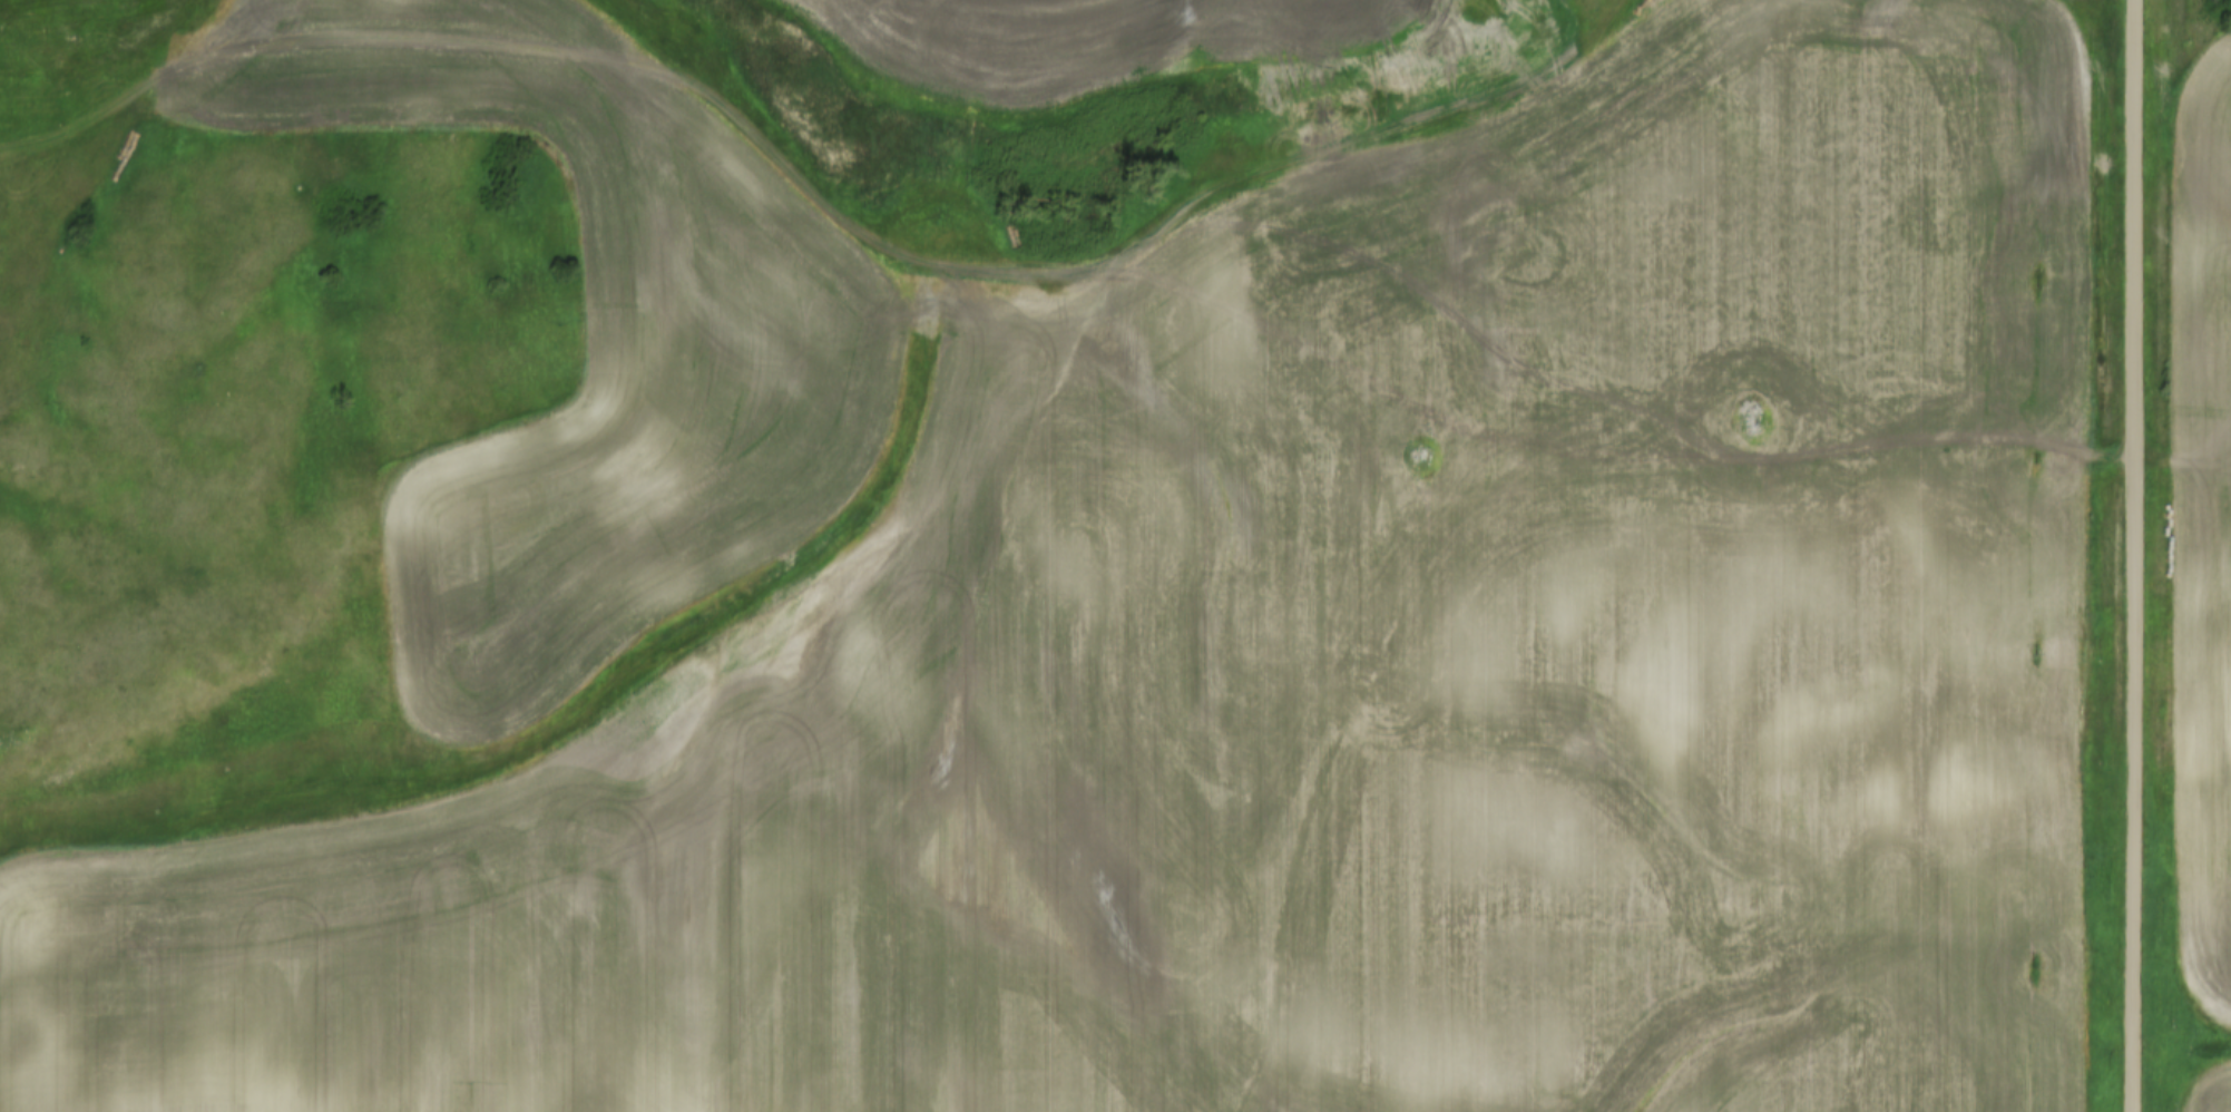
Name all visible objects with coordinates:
road: (2137, 555)

